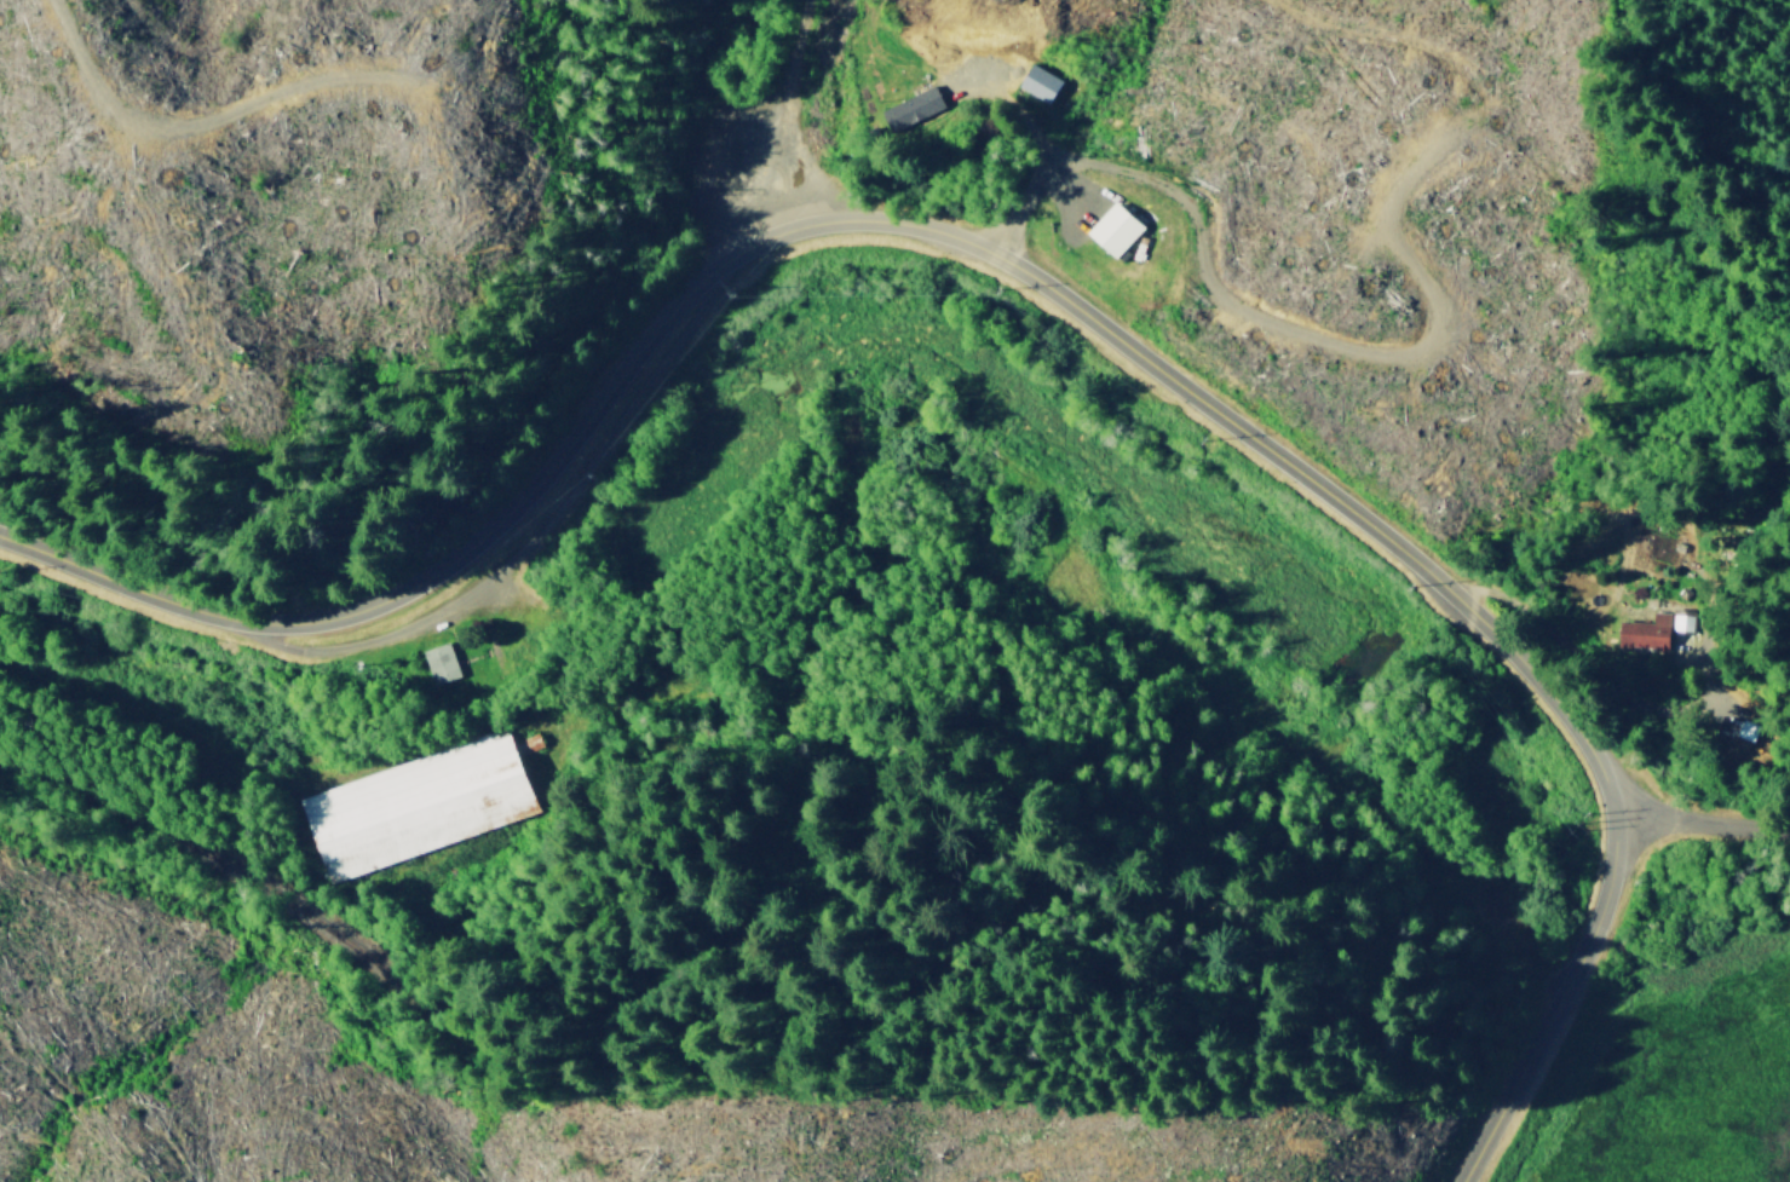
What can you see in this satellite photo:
building: (1035, 81)
building: (909, 105)
road: (841, 215)
building: (1107, 229)
building: (1650, 628)
building: (438, 662)
road: (127, 721)
building: (411, 805)
road: (1706, 825)
railway: (322, 924)
road: (1554, 999)

